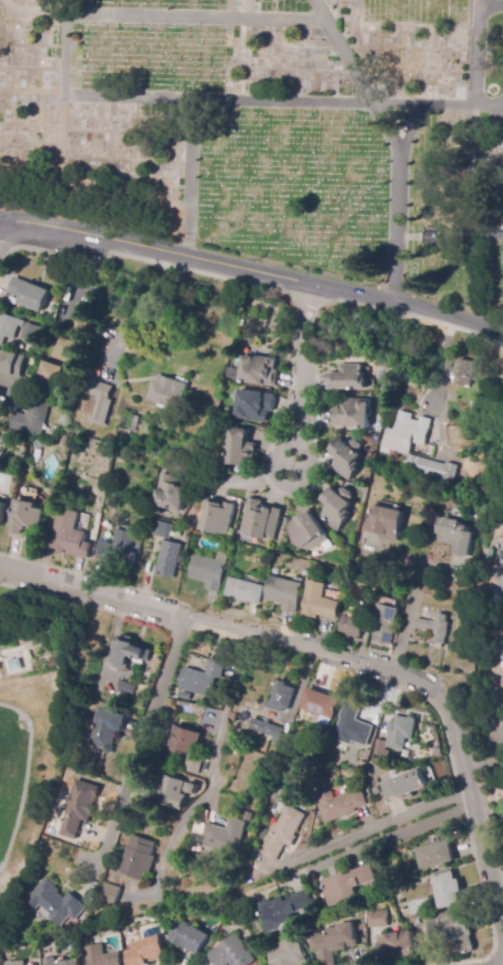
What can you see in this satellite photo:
road: (491, 5)
road: (34, 11)
road: (196, 16)
road: (478, 65)
road: (65, 93)
road: (270, 102)
road: (413, 129)
park: (269, 133)
road: (396, 139)
road: (190, 176)
building: (431, 238)
road: (253, 268)
building: (30, 294)
building: (80, 320)
building: (8, 327)
building: (30, 333)
building: (22, 347)
building: (67, 350)
building: (11, 363)
road: (300, 363)
road: (444, 363)
building: (260, 371)
building: (464, 372)
building: (51, 374)
building: (349, 378)
building: (166, 391)
building: (99, 398)
building: (453, 401)
building: (1, 404)
building: (254, 406)
building: (353, 414)
building: (32, 418)
building: (134, 422)
building: (124, 431)
building: (110, 447)
building: (394, 448)
building: (240, 449)
road: (304, 449)
building: (346, 457)
building: (173, 493)
building: (338, 507)
building: (2, 512)
building: (218, 517)
building: (26, 519)
building: (261, 520)
building: (385, 523)
building: (308, 532)
building: (69, 535)
building: (457, 536)
building: (118, 549)
building: (166, 550)
building: (365, 567)
building: (210, 570)
building: (244, 591)
building: (285, 593)
building: (320, 602)
road: (75, 603)
building: (369, 611)
road: (407, 616)
building: (386, 623)
building: (352, 627)
building: (436, 628)
road: (338, 651)
building: (126, 652)
building: (16, 663)
building: (203, 679)
building: (126, 689)
building: (281, 698)
building: (321, 705)
park: (38, 712)
building: (232, 717)
building: (353, 726)
building: (107, 728)
building: (267, 729)
building: (397, 736)
building: (185, 740)
road: (142, 744)
building: (433, 752)
building: (279, 753)
building: (194, 764)
road: (33, 765)
road: (214, 771)
building: (405, 785)
building: (193, 789)
building: (376, 791)
building: (171, 793)
building: (339, 805)
building: (79, 808)
building: (247, 816)
road: (381, 825)
building: (198, 828)
building: (283, 833)
building: (224, 837)
building: (434, 854)
building: (138, 858)
building: (347, 884)
building: (447, 890)
building: (110, 894)
building: (55, 903)
building: (282, 911)
building: (377, 919)
building: (452, 931)
building: (189, 937)
building: (332, 943)
building: (397, 945)
building: (144, 950)
building: (230, 953)
building: (288, 954)
building: (100, 956)
building: (60, 962)
building: (16, 963)
road: (495, 963)

